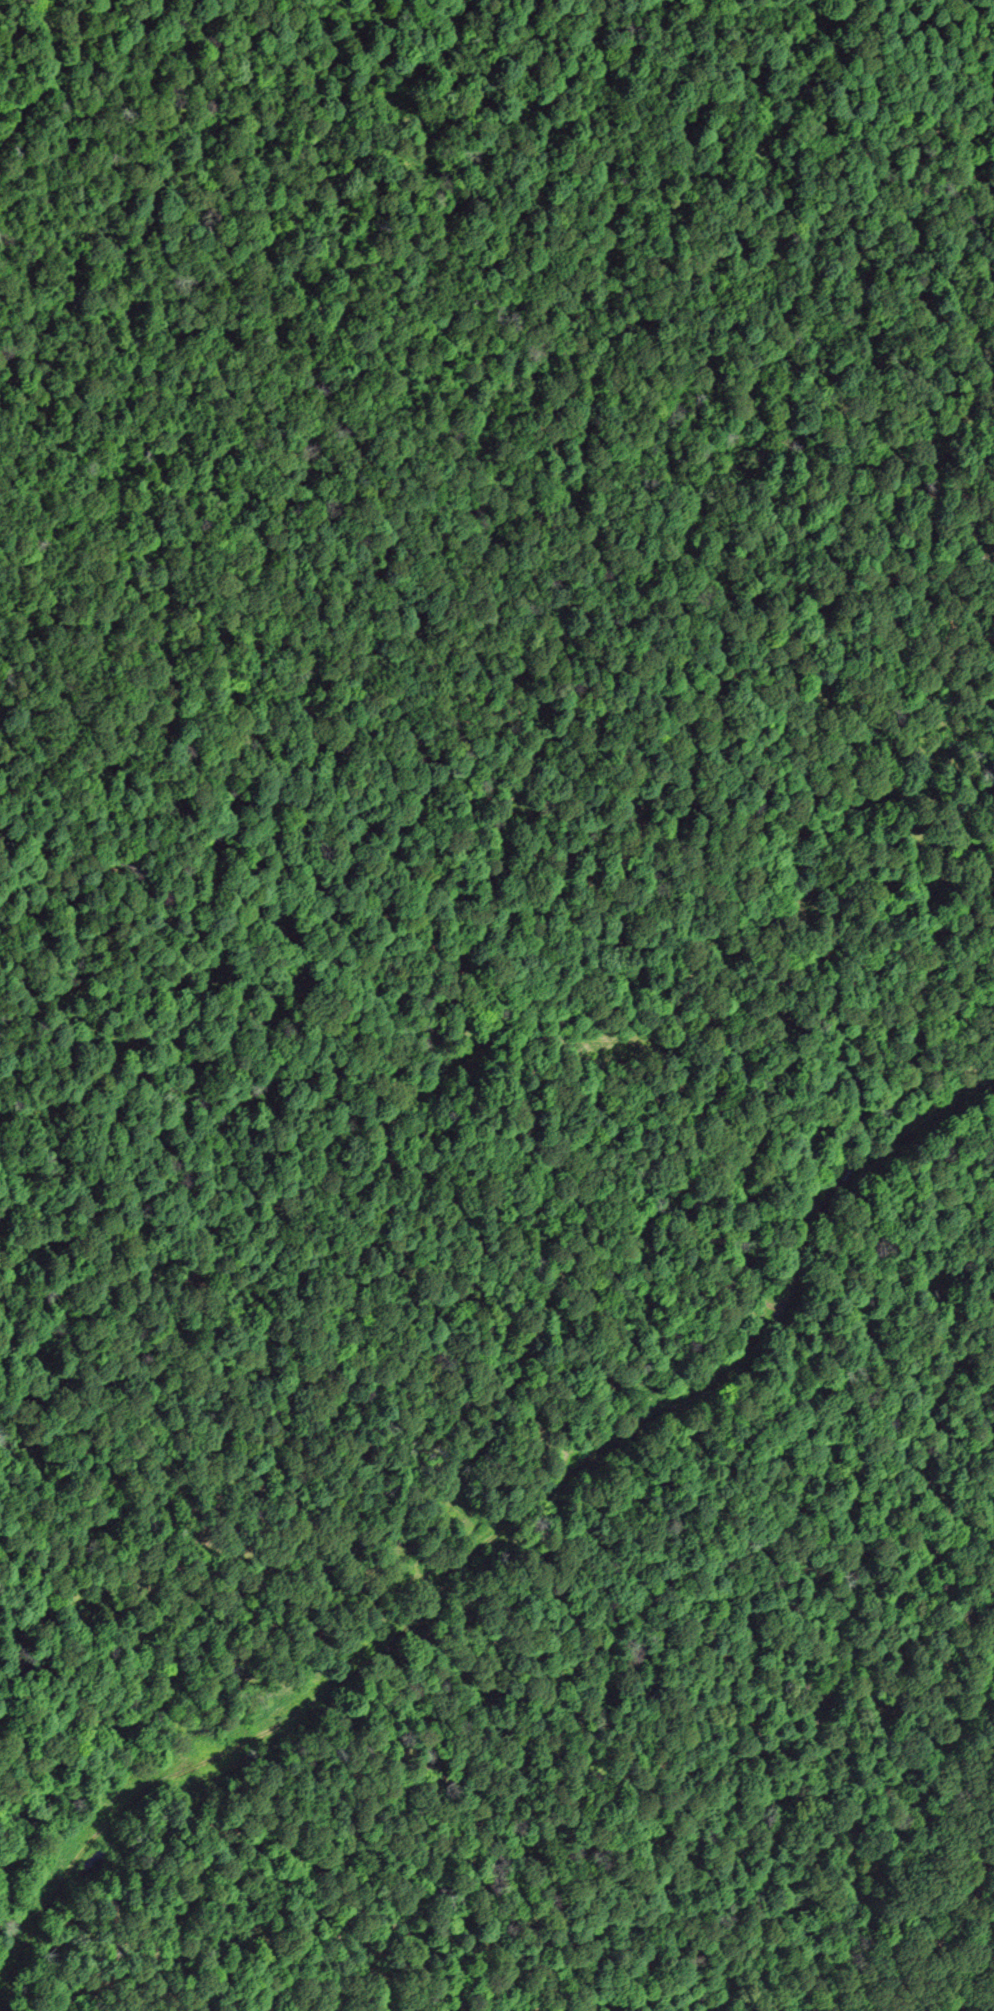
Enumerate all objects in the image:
road: (494, 1516)

